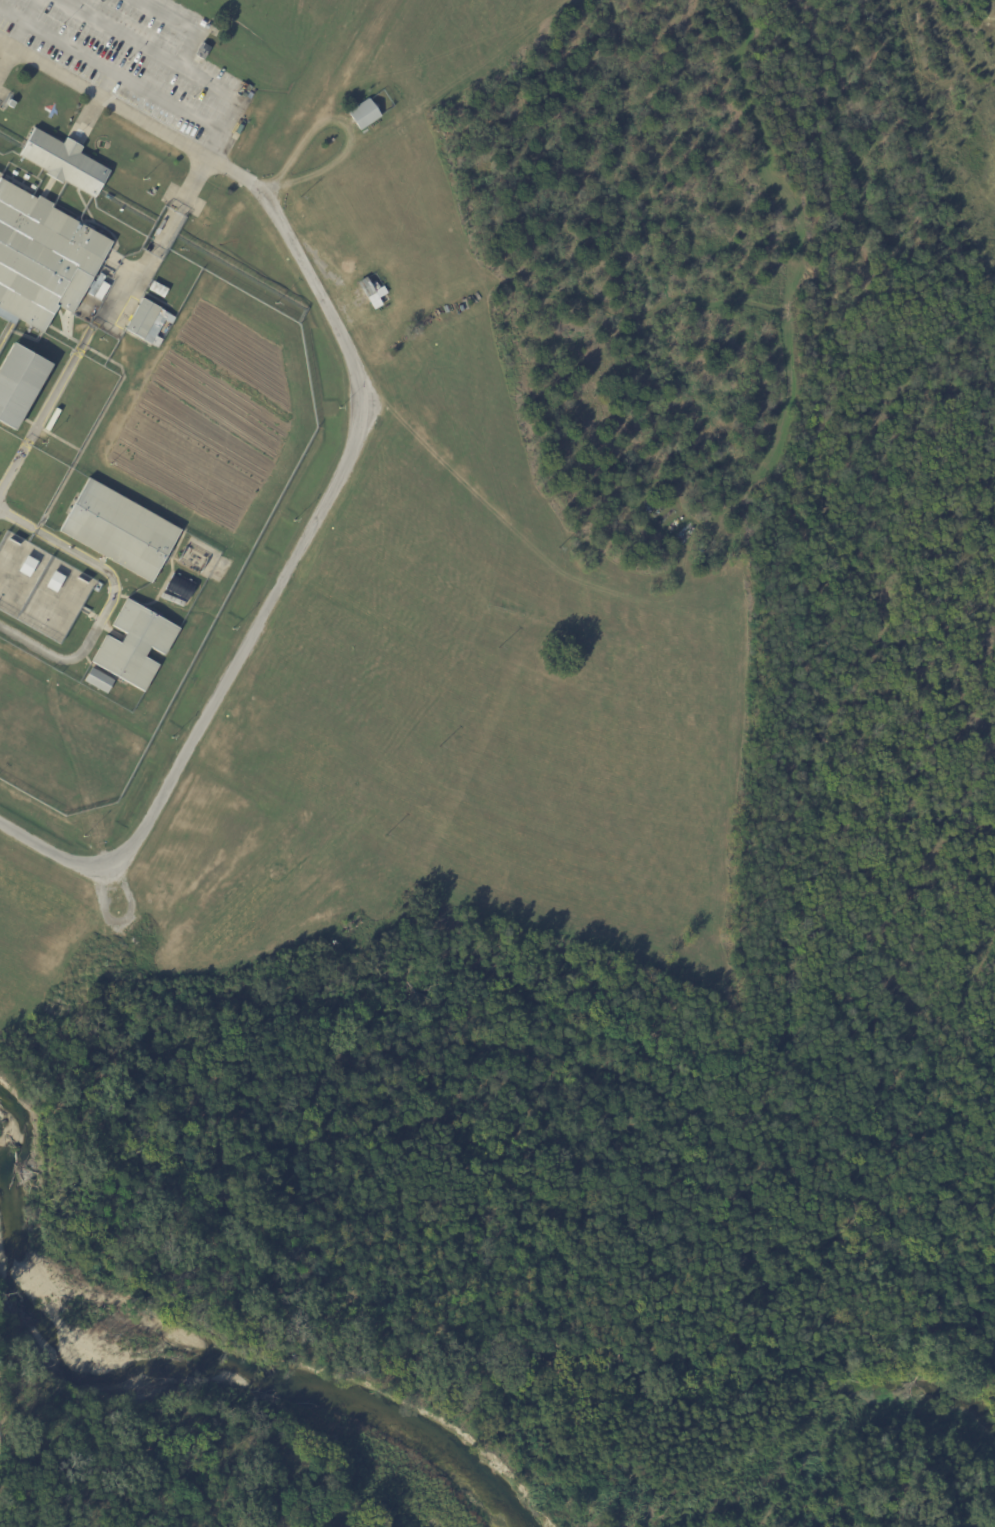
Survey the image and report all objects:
road: (25, 23)
road: (182, 24)
road: (152, 48)
building: (203, 50)
road: (6, 59)
road: (110, 69)
road: (105, 82)
building: (10, 103)
road: (89, 113)
building: (367, 114)
road: (335, 122)
road: (224, 127)
building: (63, 162)
building: (7, 174)
building: (18, 180)
building: (26, 185)
building: (43, 259)
building: (158, 289)
building: (372, 293)
road: (102, 321)
building: (147, 322)
building: (19, 385)
road: (349, 456)
building: (119, 531)
building: (27, 567)
building: (55, 583)
building: (180, 586)
road: (112, 598)
building: (135, 646)
building: (98, 681)
park: (544, 1249)
park: (960, 1462)

